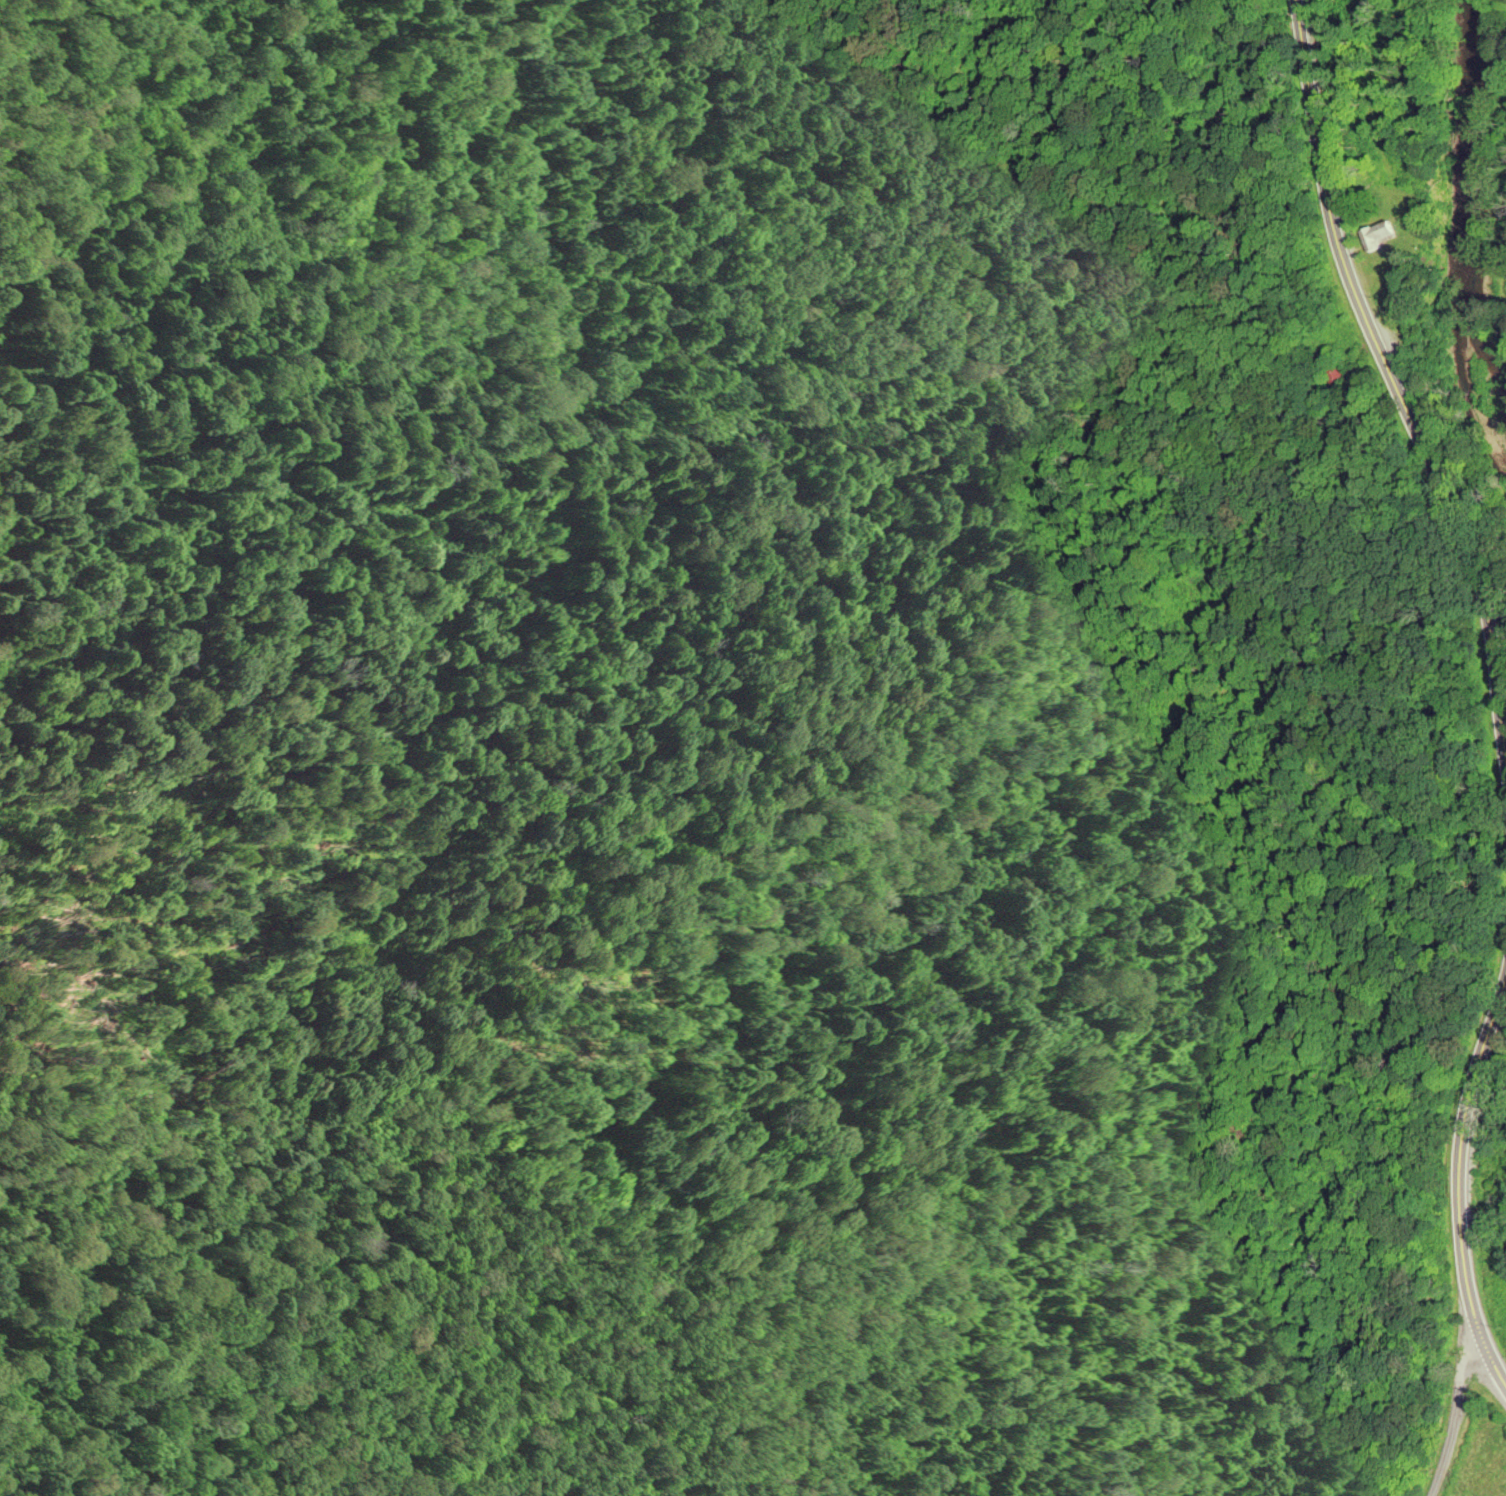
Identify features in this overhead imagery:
river: (1468, 194)
road: (1490, 683)
road: (1440, 1420)

